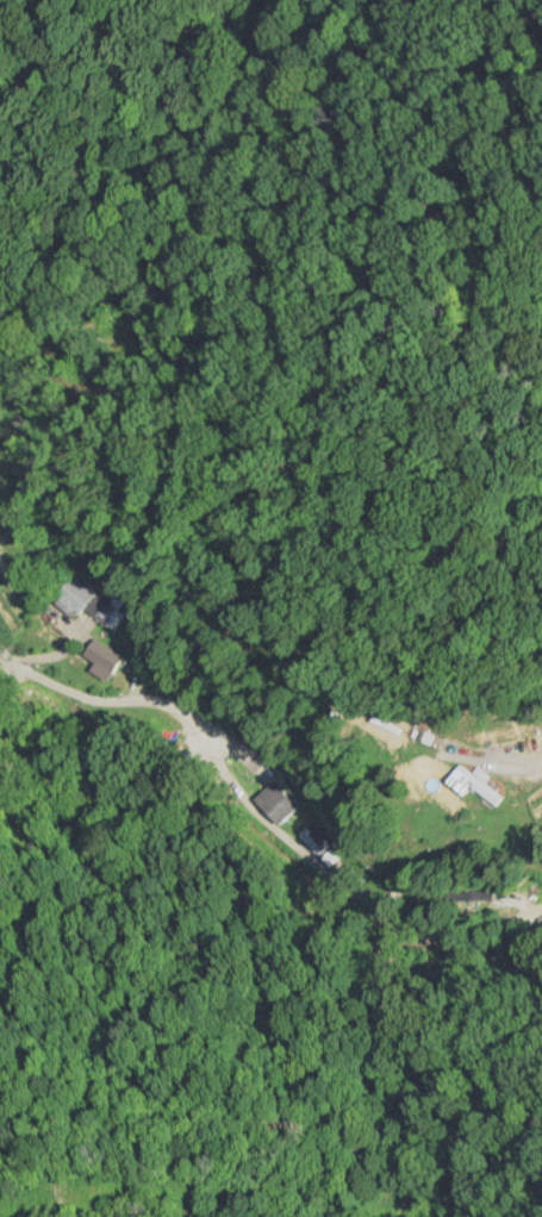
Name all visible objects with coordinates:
building: (80, 597)
building: (101, 657)
building: (474, 781)
building: (280, 804)
building: (473, 895)

